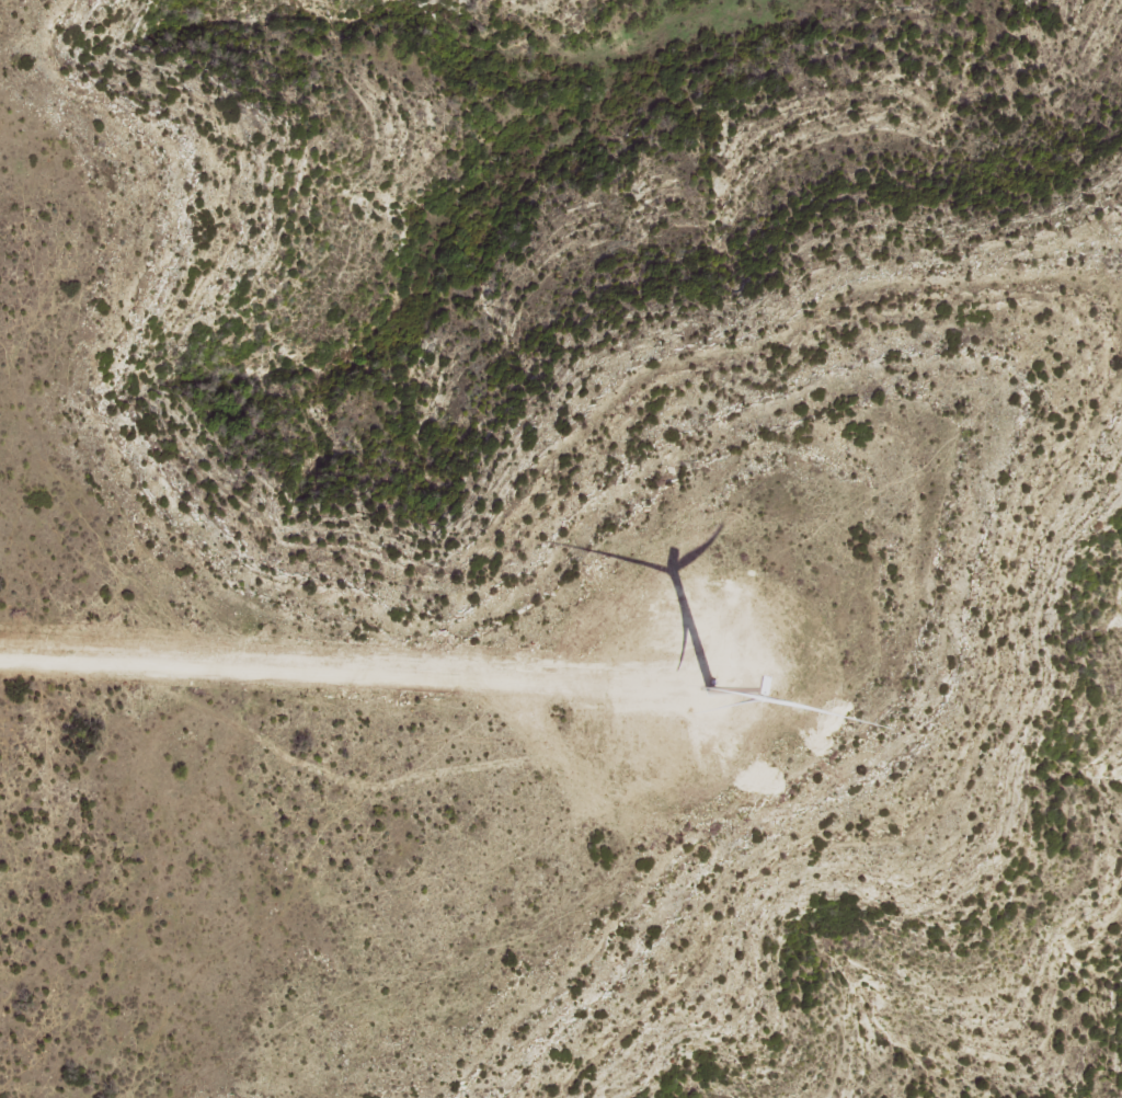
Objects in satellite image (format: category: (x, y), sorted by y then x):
wind turbine: (708, 685)

